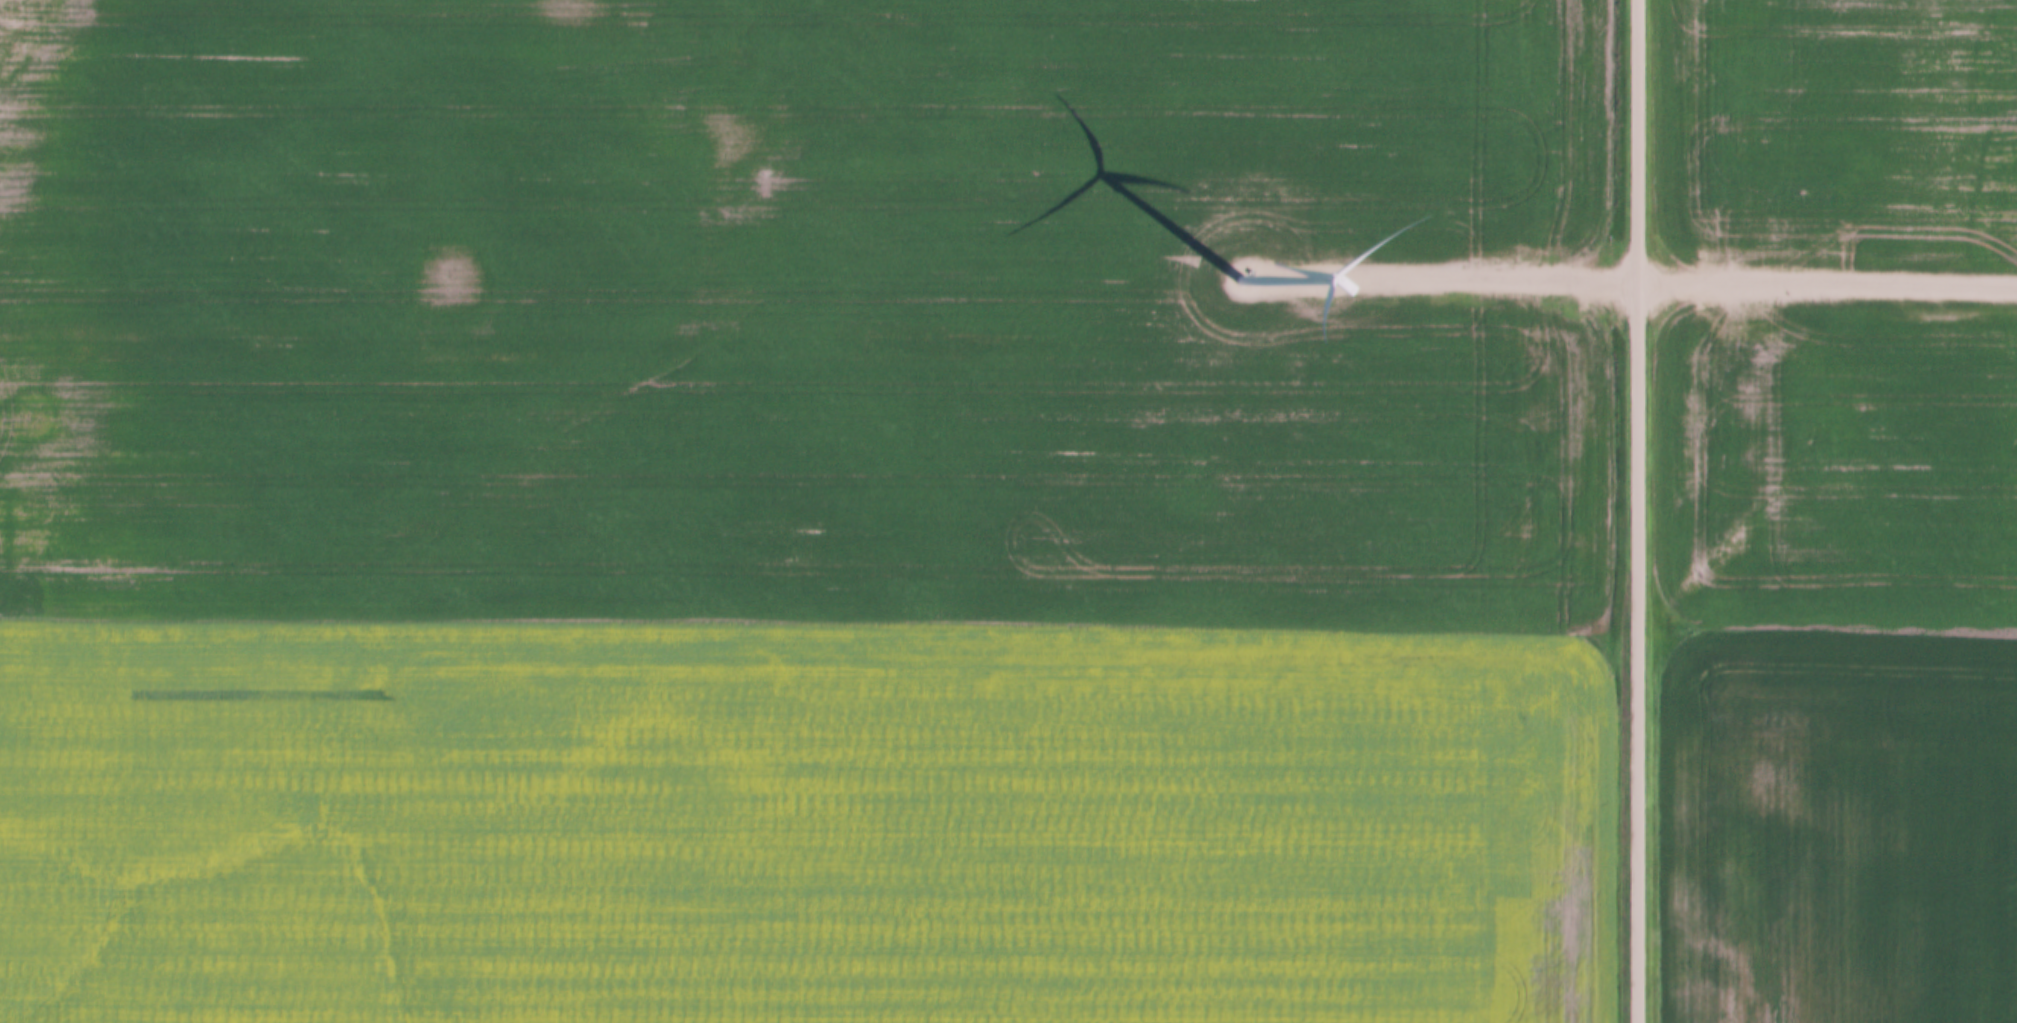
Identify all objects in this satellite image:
wind turbine: (1242, 282)
road: (1643, 511)

